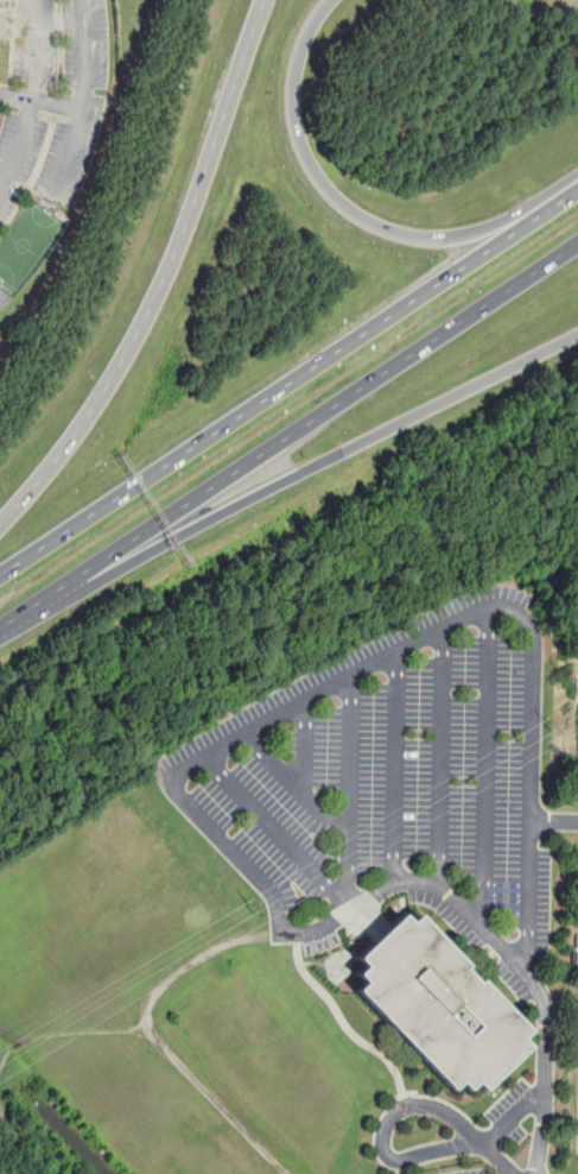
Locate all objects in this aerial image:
road: (33, 48)
building: (2, 53)
road: (87, 53)
road: (81, 111)
road: (15, 145)
road: (331, 196)
road: (555, 197)
road: (163, 277)
road: (268, 395)
road: (288, 434)
road: (325, 457)
road: (256, 629)
road: (222, 747)
road: (303, 750)
road: (438, 755)
road: (483, 766)
road: (393, 769)
road: (293, 784)
parking lot: (393, 785)
road: (349, 900)
road: (527, 973)
building: (434, 1008)
road: (342, 1024)
road: (82, 1034)
road: (158, 1039)
road: (6, 1050)
parking lot: (509, 1111)
road: (510, 1117)
road: (382, 1130)
road: (21, 1143)
parking lot: (577, 1144)
road: (493, 1154)
parking lot: (466, 1172)

